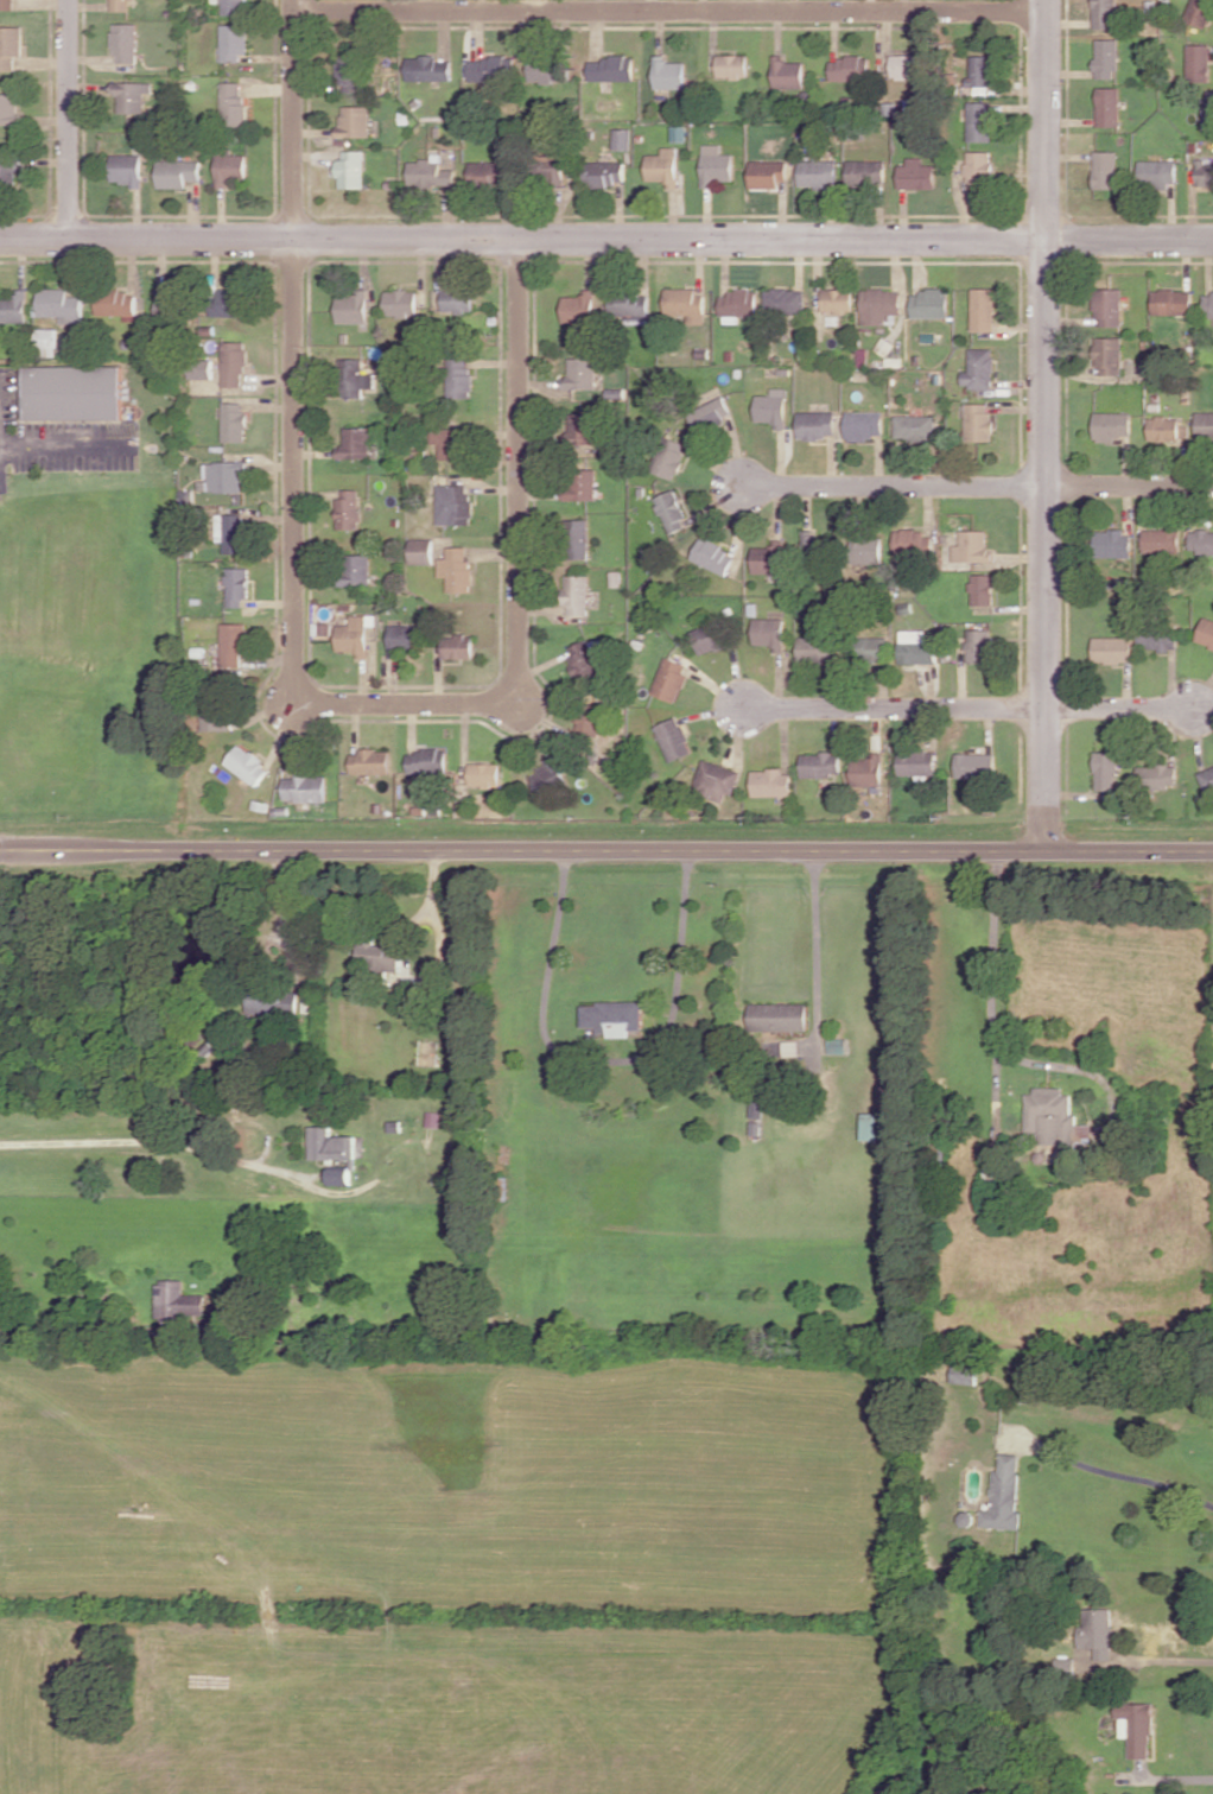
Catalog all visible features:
building: (7, 4)
building: (120, 5)
building: (234, 6)
road: (669, 12)
building: (1199, 12)
building: (1105, 13)
building: (126, 42)
building: (234, 42)
building: (11, 45)
building: (1106, 58)
building: (1199, 63)
building: (732, 65)
building: (906, 65)
building: (428, 68)
building: (491, 69)
building: (611, 69)
building: (850, 69)
building: (980, 70)
building: (548, 71)
building: (668, 72)
building: (787, 72)
building: (350, 75)
building: (132, 95)
building: (234, 104)
building: (1109, 106)
building: (8, 108)
building: (1207, 109)
road: (68, 118)
building: (355, 121)
building: (979, 121)
building: (679, 133)
building: (622, 138)
building: (716, 165)
building: (663, 166)
building: (979, 166)
building: (230, 167)
building: (550, 167)
building: (127, 169)
building: (351, 169)
building: (1105, 169)
building: (8, 171)
building: (178, 172)
building: (430, 172)
building: (489, 172)
building: (604, 172)
building: (865, 172)
building: (1157, 172)
building: (1205, 172)
building: (767, 173)
building: (817, 173)
building: (916, 175)
road: (605, 239)
building: (457, 299)
building: (838, 299)
building: (169, 300)
building: (785, 300)
building: (227, 302)
building: (1171, 302)
building: (116, 303)
building: (401, 303)
building: (629, 303)
building: (929, 303)
building: (686, 304)
building: (738, 304)
building: (1209, 304)
building: (61, 305)
building: (879, 305)
building: (353, 306)
building: (583, 306)
building: (1109, 306)
building: (13, 308)
building: (983, 309)
road: (294, 347)
building: (1109, 355)
building: (233, 363)
building: (201, 368)
building: (979, 368)
building: (580, 373)
building: (458, 376)
building: (354, 378)
building: (76, 381)
building: (773, 407)
building: (711, 414)
building: (233, 421)
building: (978, 421)
building: (817, 424)
building: (864, 425)
road: (1044, 425)
building: (1111, 425)
building: (915, 426)
building: (1167, 429)
building: (584, 431)
road: (63, 438)
parking lot: (76, 440)
building: (450, 442)
building: (355, 443)
building: (671, 457)
building: (224, 476)
building: (579, 484)
road: (896, 484)
road: (1130, 484)
building: (453, 503)
building: (349, 508)
building: (672, 511)
building: (234, 533)
building: (577, 538)
building: (1161, 540)
building: (1201, 541)
building: (912, 543)
building: (1112, 543)
building: (815, 545)
building: (972, 546)
building: (421, 550)
building: (868, 550)
building: (713, 556)
building: (769, 558)
building: (356, 569)
building: (456, 569)
road: (519, 571)
building: (236, 585)
building: (982, 589)
building: (576, 594)
building: (769, 632)
building: (1206, 633)
building: (354, 635)
building: (404, 638)
building: (709, 638)
building: (1157, 639)
building: (231, 644)
building: (979, 645)
building: (457, 646)
building: (874, 647)
building: (915, 647)
building: (817, 648)
building: (1112, 648)
building: (583, 659)
building: (669, 679)
road: (894, 708)
road: (1120, 708)
building: (214, 717)
building: (590, 719)
building: (673, 738)
building: (370, 761)
building: (426, 761)
building: (915, 762)
building: (819, 763)
building: (974, 763)
building: (246, 765)
building: (866, 769)
building: (1106, 769)
building: (483, 774)
building: (547, 774)
building: (1157, 775)
building: (715, 779)
building: (1207, 780)
building: (769, 782)
building: (305, 786)
building: (260, 803)
building: (282, 809)
road: (606, 849)
road: (280, 905)
road: (817, 951)
building: (380, 955)
road: (990, 988)
building: (272, 1002)
building: (612, 1016)
building: (776, 1016)
building: (837, 1045)
building: (790, 1047)
road: (605, 1057)
building: (757, 1104)
building: (1054, 1117)
building: (872, 1124)
building: (756, 1127)
road: (153, 1139)
building: (331, 1145)
building: (339, 1174)
building: (177, 1301)
road: (74, 1333)
building: (966, 1371)
road: (1114, 1470)
building: (1006, 1494)
building: (966, 1515)
building: (1098, 1630)
road: (1149, 1657)
building: (1066, 1662)
building: (1138, 1723)
road: (1167, 1776)

